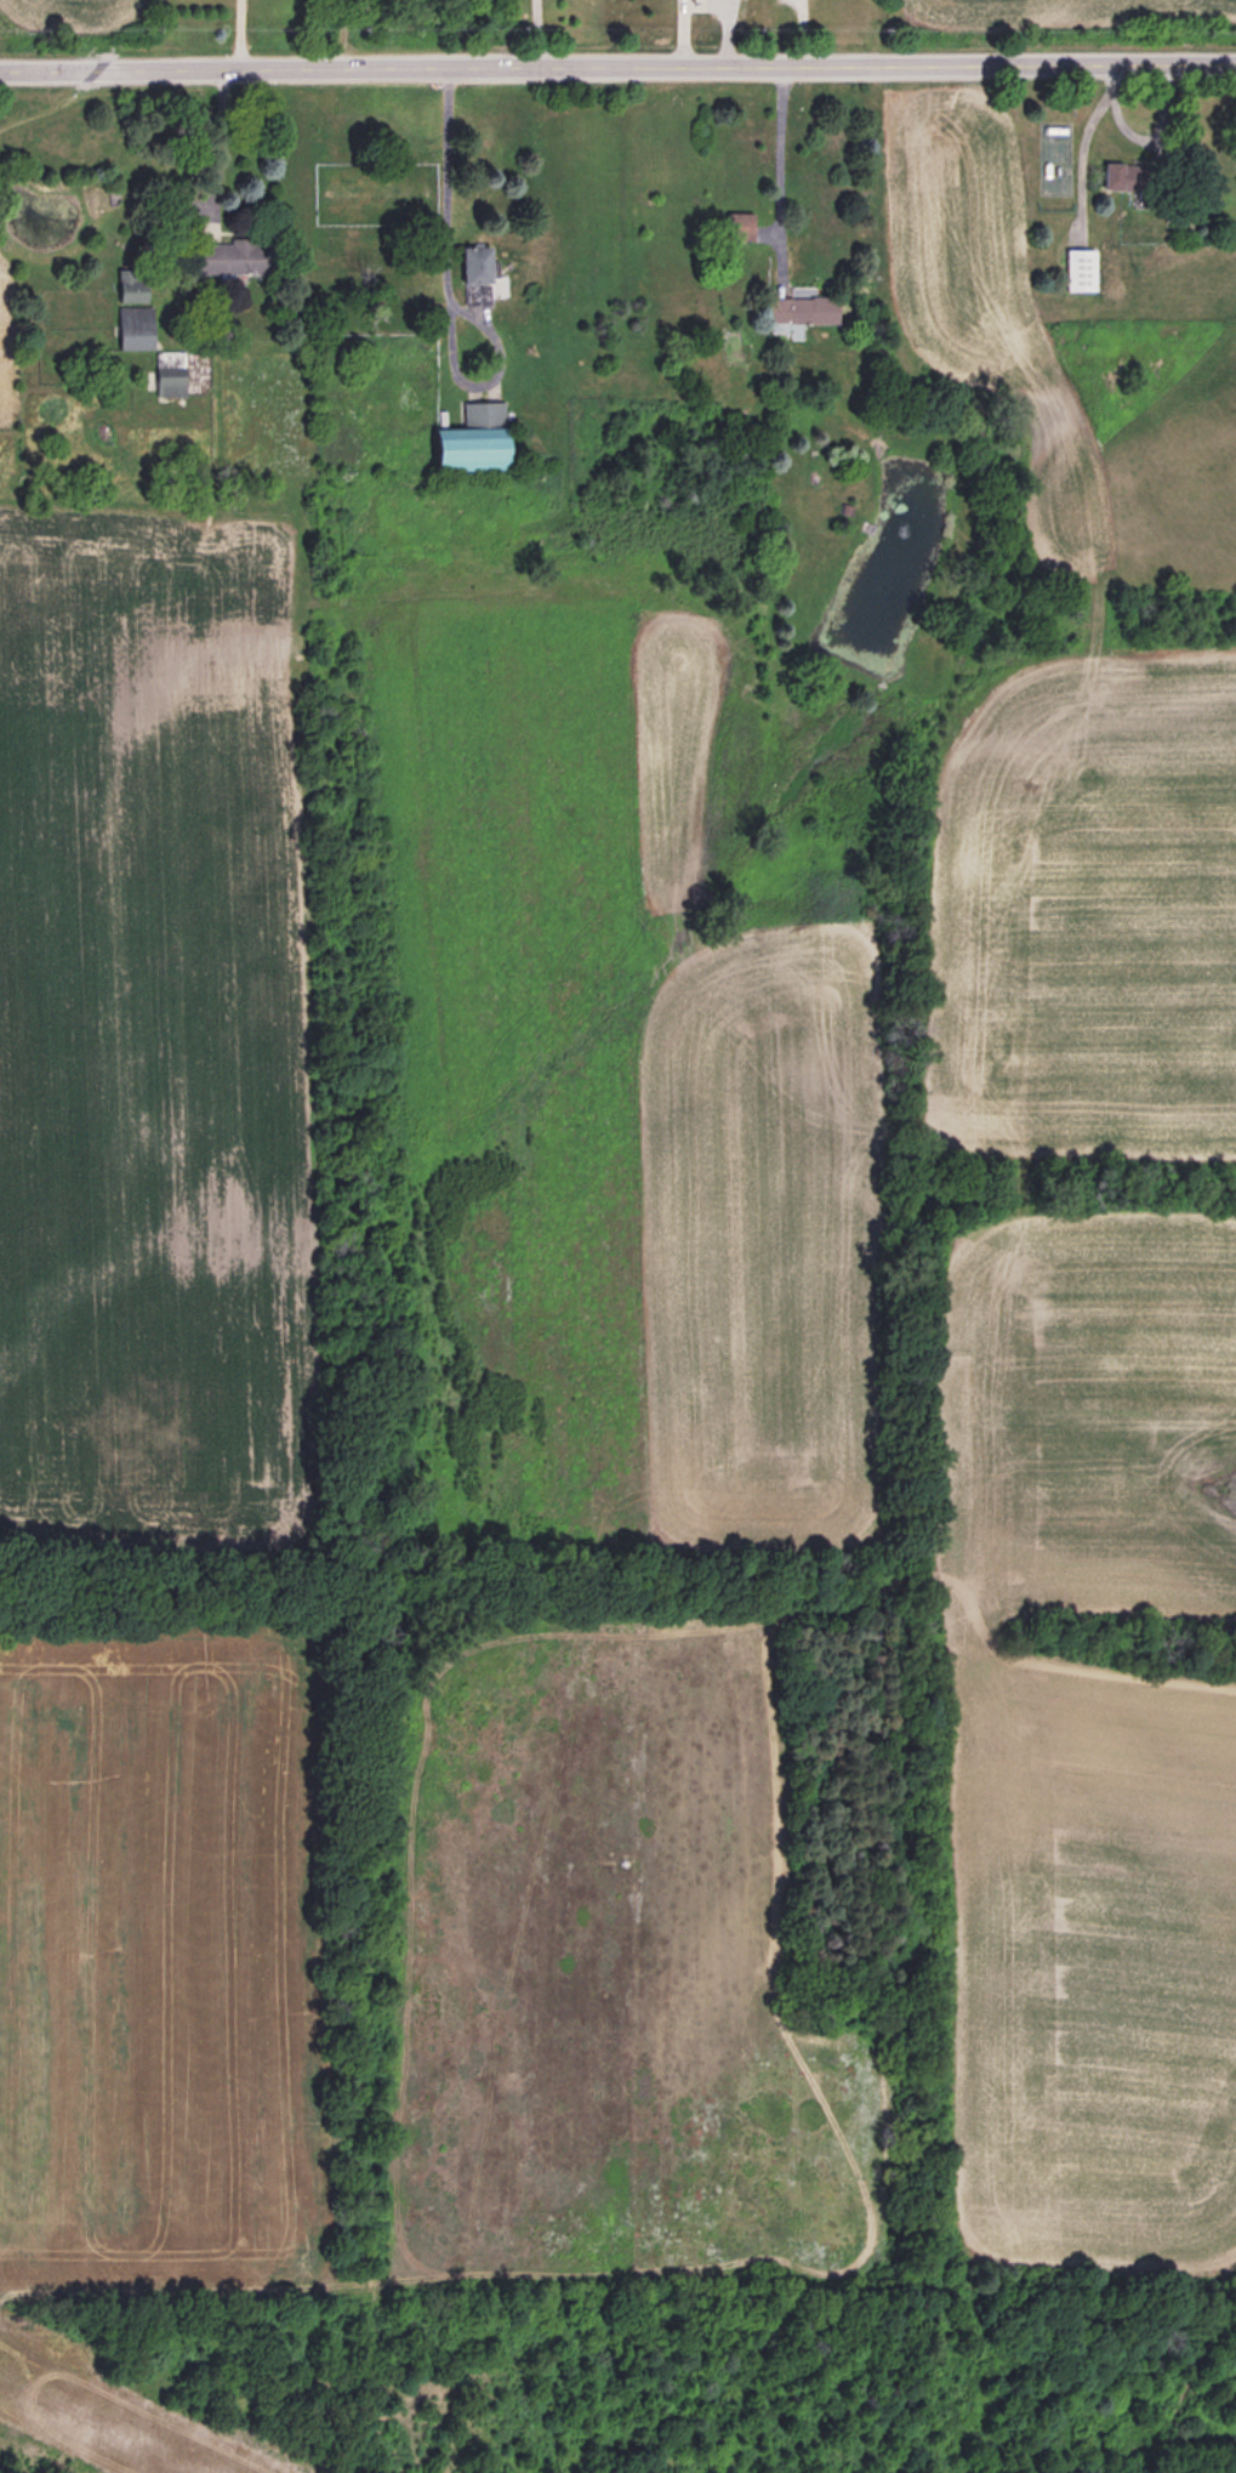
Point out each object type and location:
road: (536, 34)
road: (617, 67)
building: (1137, 183)
road: (444, 216)
building: (740, 228)
building: (235, 258)
building: (1081, 272)
building: (477, 274)
building: (132, 288)
building: (649, 289)
building: (803, 312)
building: (136, 329)
building: (2, 334)
building: (171, 375)
building: (475, 440)
park: (654, 2378)

